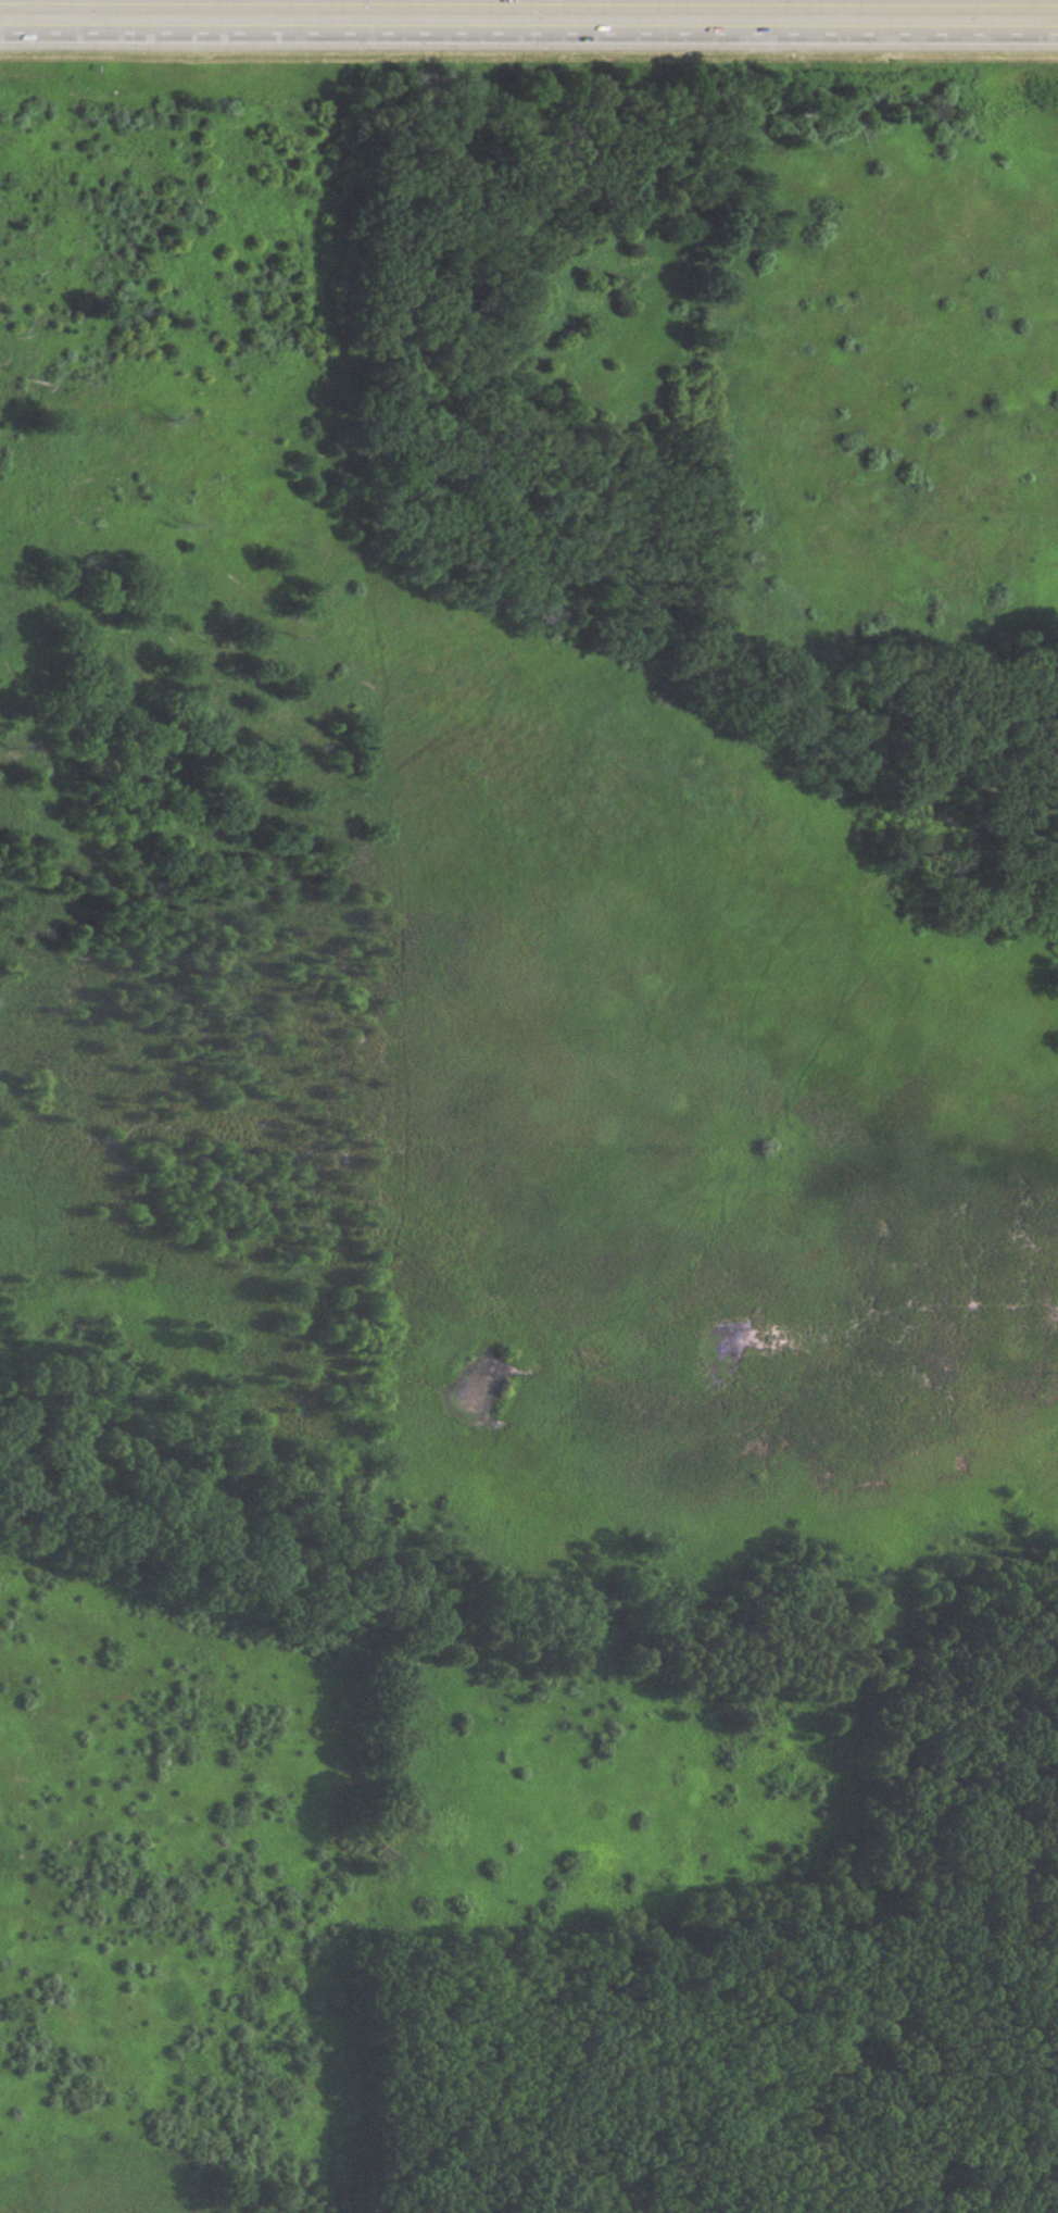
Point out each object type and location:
road: (529, 34)
building: (569, 39)

